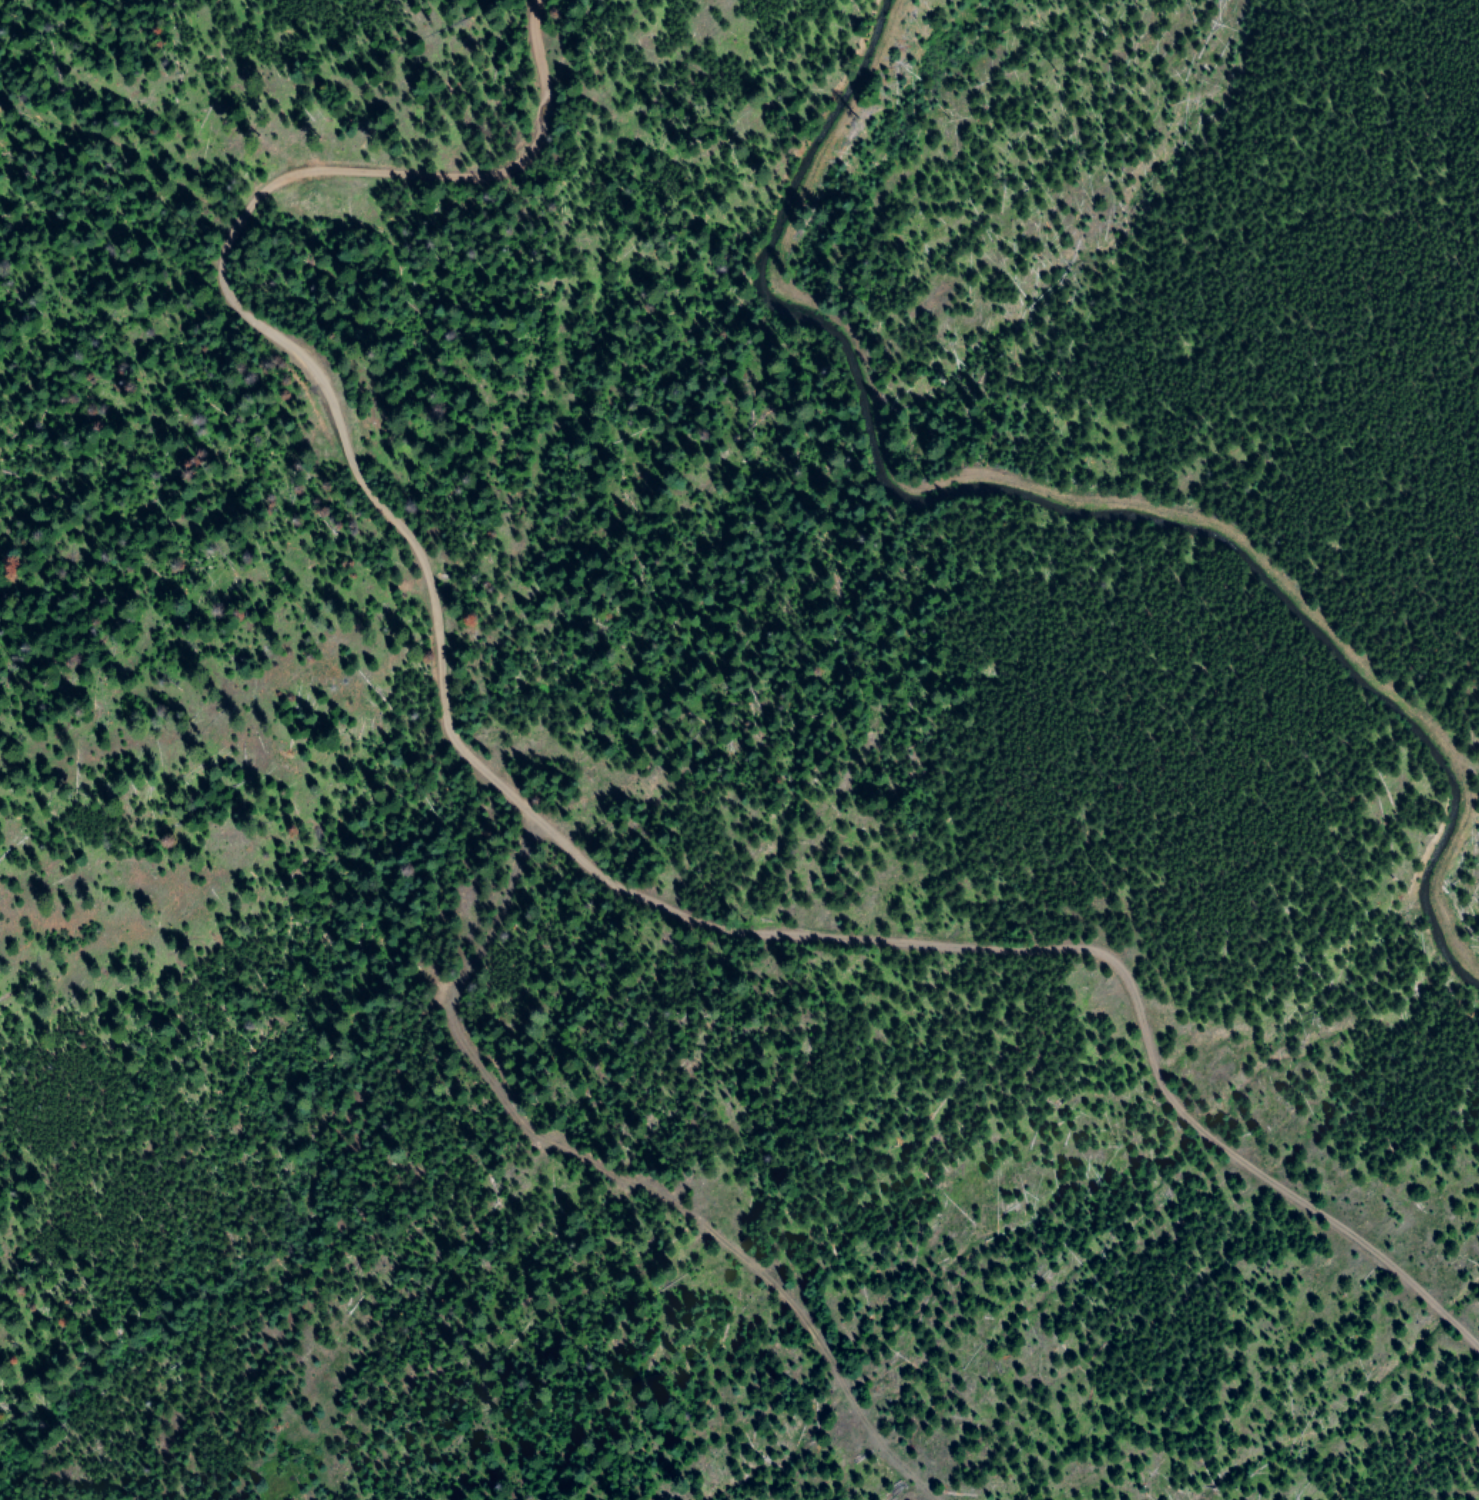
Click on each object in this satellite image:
road: (306, 369)
road: (1050, 965)
road: (679, 1142)

